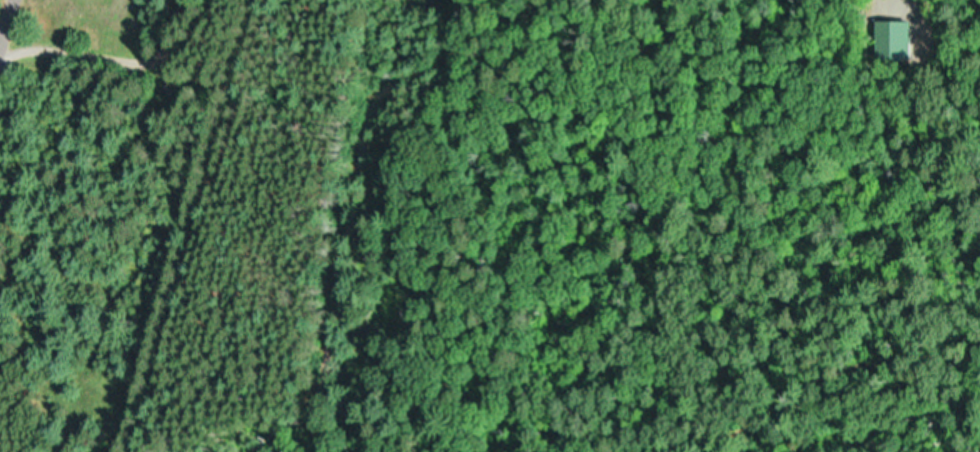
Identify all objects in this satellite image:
road: (3, 9)
road: (71, 40)
road: (202, 225)

